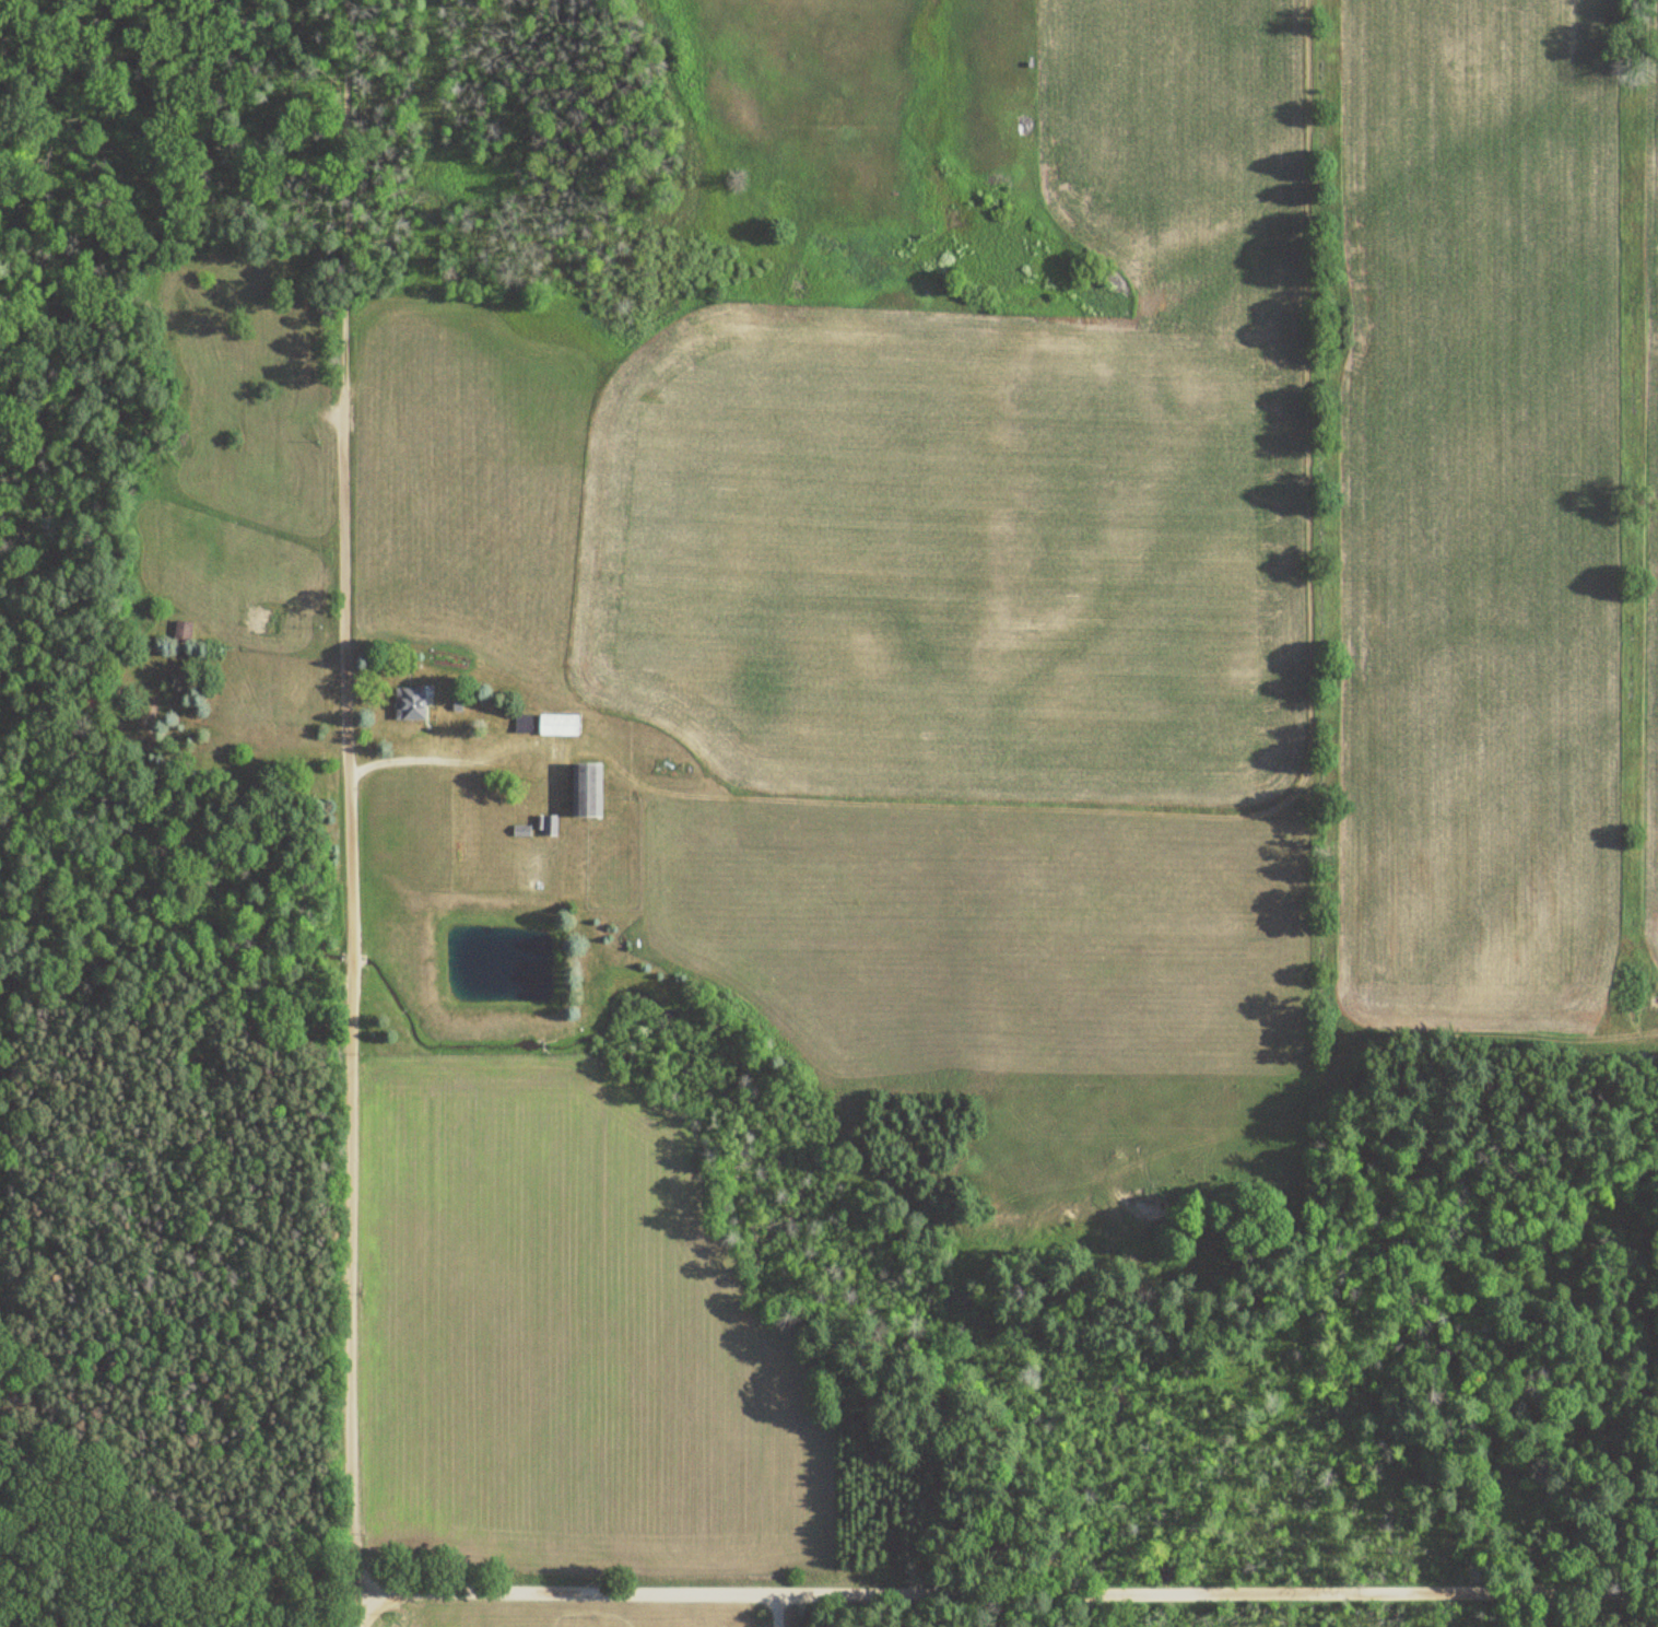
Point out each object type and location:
road: (344, 196)
building: (181, 631)
building: (411, 704)
building: (558, 725)
building: (588, 791)
building: (549, 826)
road: (353, 1009)
road: (1004, 1591)
road: (771, 1608)

